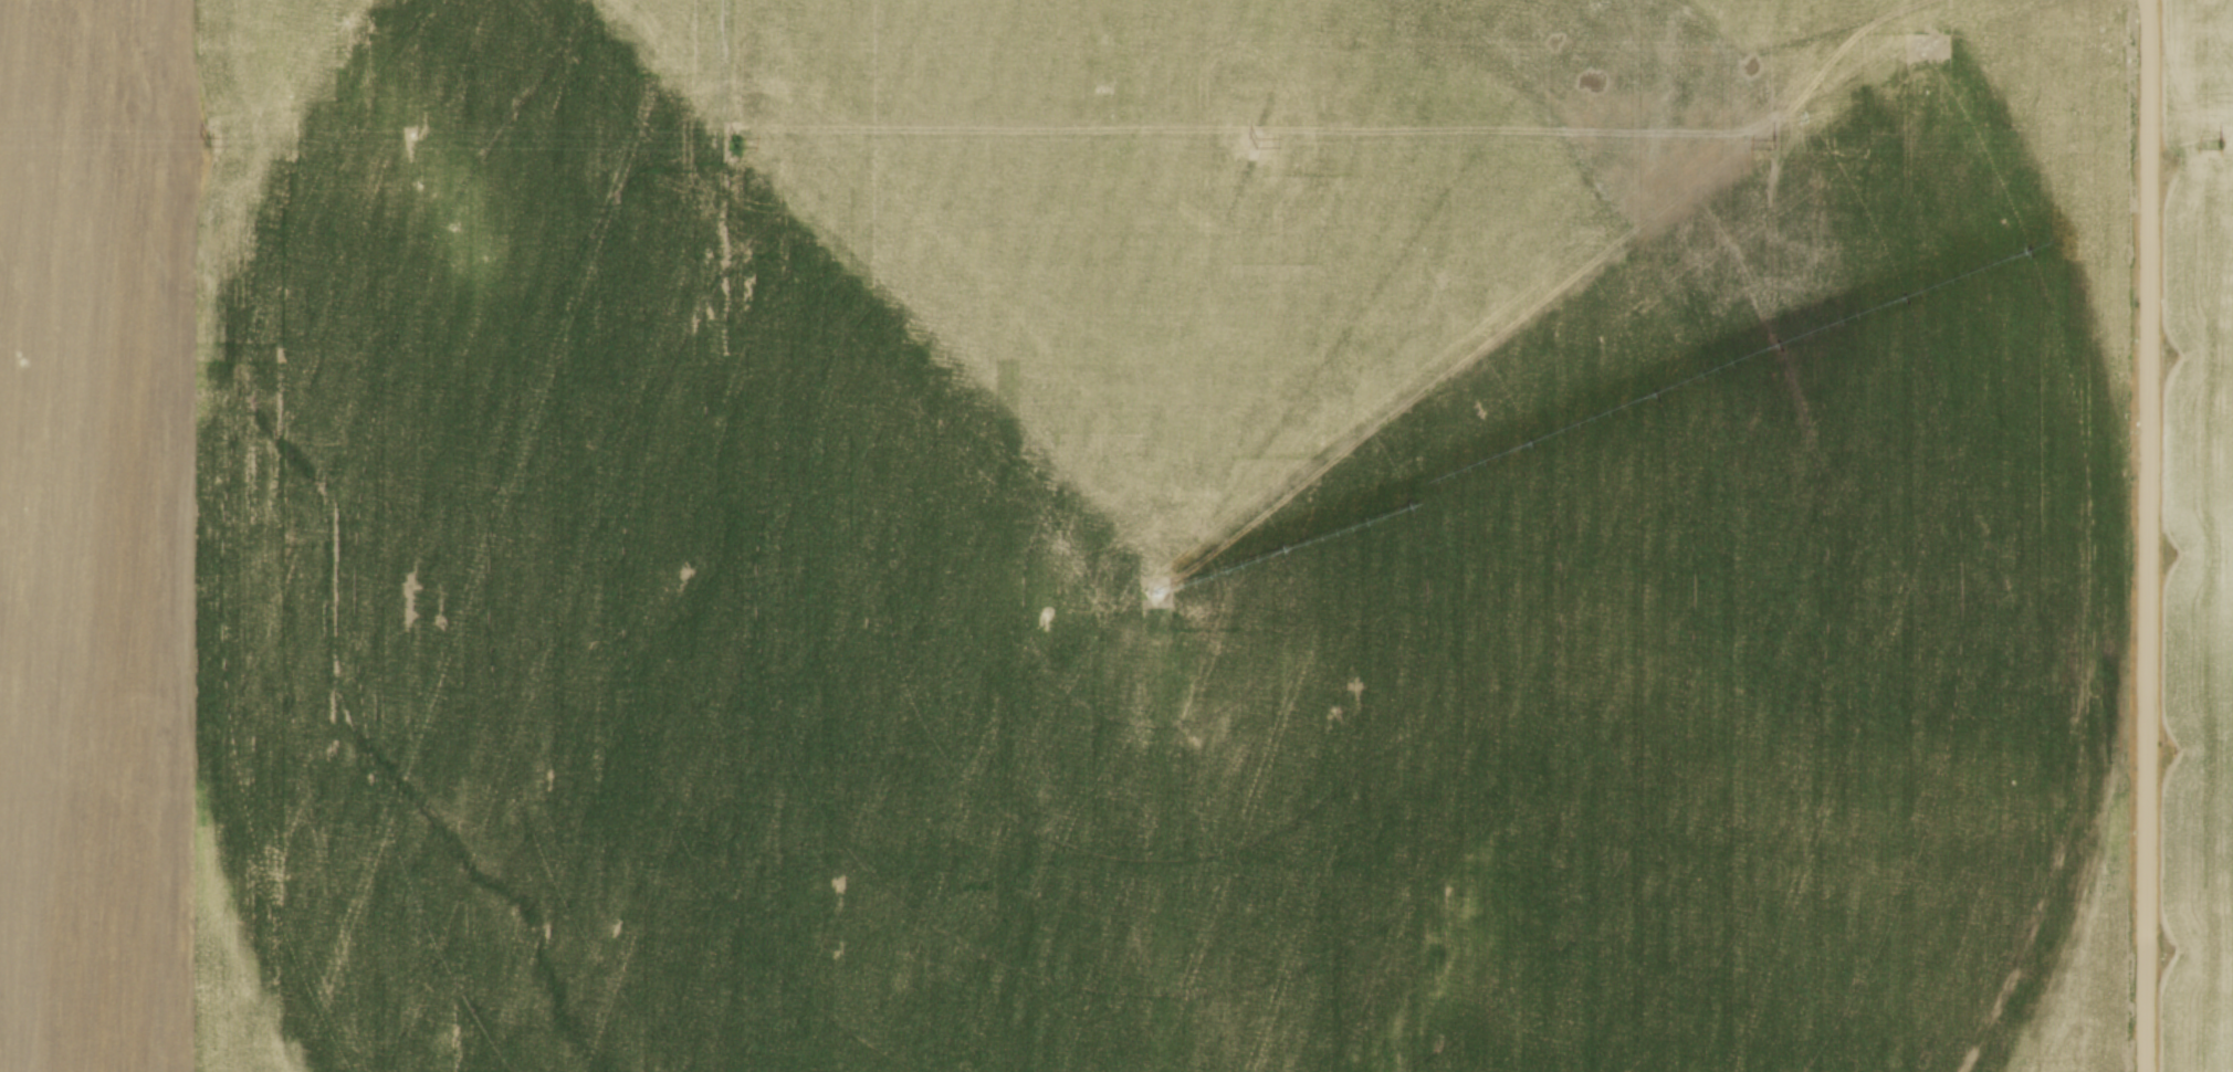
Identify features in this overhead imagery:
power tower: (208, 143)
power tower: (1772, 143)
power tower: (737, 144)
power tower: (1257, 145)
power tower: (2220, 145)
crop: (1063, 535)
road: (2148, 535)
crop: (2199, 536)
building: (291, 994)

